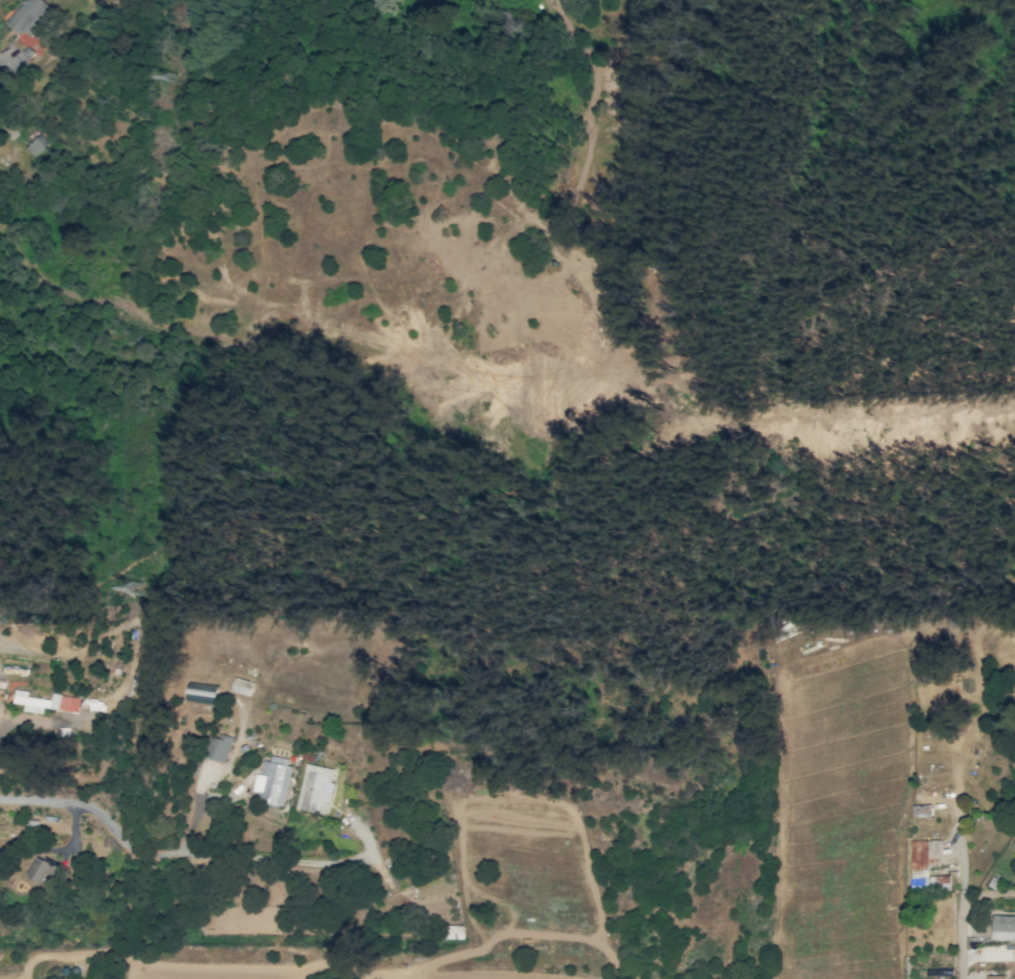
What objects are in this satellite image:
building: (31, 16)
power tower: (171, 78)
building: (1, 80)
building: (36, 145)
power tower: (131, 591)
building: (241, 686)
building: (46, 702)
building: (219, 747)
building: (273, 779)
building: (315, 788)
road: (108, 822)
road: (304, 861)
building: (927, 867)
building: (41, 868)
road: (961, 908)
building: (1003, 927)
building: (455, 932)
building: (995, 977)

